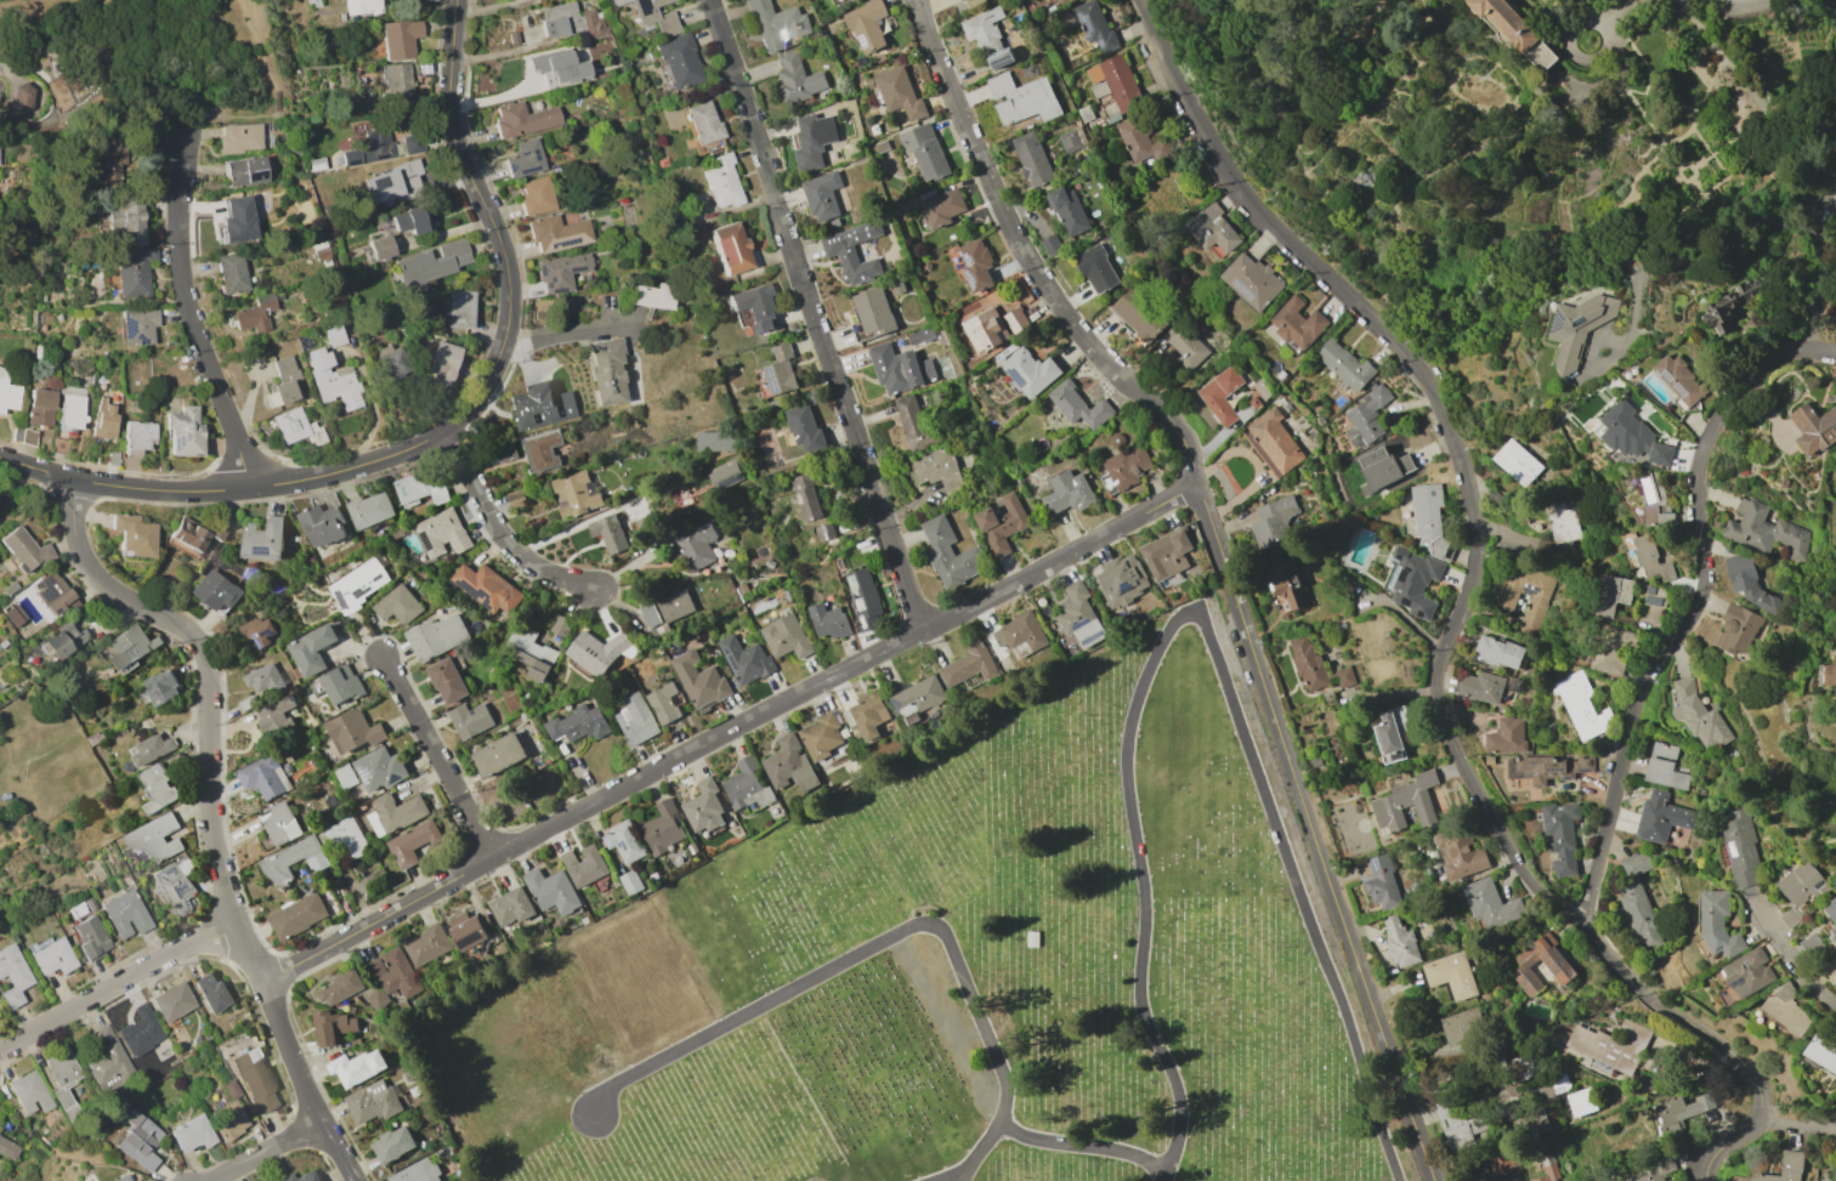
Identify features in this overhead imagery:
building: (960, 0)
building: (1053, 0)
building: (555, 1)
building: (846, 1)
building: (314, 2)
building: (364, 6)
road: (1617, 8)
building: (654, 16)
building: (342, 17)
building: (573, 22)
building: (776, 24)
building: (1094, 24)
building: (866, 25)
building: (1514, 33)
building: (402, 38)
building: (512, 38)
building: (987, 38)
road: (256, 45)
building: (588, 45)
building: (679, 59)
building: (569, 63)
park: (137, 64)
road: (1, 68)
road: (10, 68)
road: (56, 68)
road: (36, 69)
building: (795, 79)
building: (397, 80)
building: (1116, 81)
road: (11, 90)
building: (899, 93)
building: (23, 97)
building: (1021, 98)
road: (276, 100)
road: (210, 113)
road: (276, 114)
building: (523, 120)
building: (704, 121)
road: (191, 131)
building: (240, 138)
building: (812, 140)
building: (1140, 142)
building: (414, 143)
building: (370, 147)
building: (924, 151)
building: (110, 157)
building: (1032, 158)
building: (525, 159)
building: (245, 171)
building: (391, 181)
building: (722, 181)
building: (535, 195)
building: (821, 195)
building: (942, 206)
building: (1067, 211)
building: (243, 215)
building: (126, 218)
building: (409, 221)
building: (1212, 229)
road: (1785, 229)
building: (559, 233)
building: (381, 248)
building: (730, 248)
building: (838, 249)
building: (323, 252)
building: (975, 263)
building: (429, 266)
building: (365, 268)
building: (1096, 268)
building: (562, 271)
building: (135, 273)
building: (232, 273)
building: (1251, 280)
building: (651, 296)
building: (1727, 305)
building: (754, 306)
building: (459, 310)
building: (420, 311)
building: (255, 312)
building: (873, 312)
building: (1139, 314)
road: (814, 317)
road: (189, 318)
building: (1297, 323)
building: (137, 327)
building: (992, 327)
road: (569, 328)
building: (1576, 328)
building: (336, 335)
building: (919, 335)
building: (291, 343)
building: (1184, 346)
road: (1825, 351)
building: (444, 360)
building: (391, 362)
building: (1343, 364)
building: (899, 368)
building: (611, 371)
building: (778, 371)
building: (1028, 371)
building: (1678, 379)
building: (333, 380)
building: (284, 381)
building: (7, 391)
building: (1220, 394)
building: (1078, 405)
building: (41, 407)
building: (540, 407)
building: (72, 409)
building: (1366, 416)
building: (104, 421)
building: (914, 424)
building: (297, 427)
road: (443, 427)
building: (1813, 427)
building: (804, 428)
building: (185, 431)
building: (19, 432)
building: (1631, 435)
building: (30, 437)
building: (140, 437)
building: (715, 441)
building: (1271, 442)
building: (61, 445)
building: (543, 449)
building: (505, 452)
building: (114, 458)
building: (1517, 462)
building: (1126, 466)
building: (936, 469)
building: (1382, 469)
building: (725, 476)
building: (420, 489)
building: (577, 493)
building: (1066, 493)
building: (805, 495)
building: (515, 498)
building: (1653, 499)
building: (369, 510)
building: (1427, 518)
building: (1562, 521)
building: (1273, 522)
building: (322, 523)
building: (1001, 523)
building: (1762, 529)
building: (198, 530)
road: (497, 532)
building: (823, 532)
building: (442, 533)
building: (607, 533)
building: (397, 534)
building: (135, 535)
building: (263, 539)
building: (692, 545)
building: (25, 549)
building: (1166, 552)
building: (948, 553)
building: (1645, 556)
road: (1224, 562)
road: (1475, 569)
building: (1121, 580)
building: (1413, 581)
building: (1749, 583)
building: (359, 584)
building: (1283, 585)
building: (488, 587)
building: (11, 589)
building: (216, 591)
building: (1525, 592)
building: (55, 595)
building: (1609, 595)
building: (865, 600)
building: (398, 606)
building: (667, 608)
building: (1076, 614)
building: (15, 615)
building: (827, 620)
road: (1689, 620)
road: (1196, 621)
building: (563, 625)
building: (362, 628)
building: (1736, 630)
building: (1018, 631)
building: (257, 632)
building: (437, 636)
building: (784, 636)
building: (64, 641)
building: (5, 643)
building: (131, 647)
building: (312, 649)
building: (529, 651)
building: (1610, 651)
building: (1497, 652)
building: (595, 657)
building: (742, 659)
building: (968, 665)
building: (1315, 666)
building: (6, 671)
building: (1830, 674)
road: (204, 675)
building: (261, 676)
building: (447, 680)
building: (697, 680)
building: (342, 683)
building: (1481, 687)
building: (161, 688)
building: (916, 699)
building: (248, 703)
building: (663, 703)
building: (1580, 706)
building: (868, 714)
building: (276, 716)
building: (1699, 716)
building: (633, 719)
building: (470, 720)
building: (578, 723)
road: (727, 729)
building: (355, 731)
building: (1392, 733)
building: (821, 734)
building: (1506, 736)
building: (96, 738)
building: (151, 750)
building: (498, 755)
road: (436, 757)
building: (176, 761)
building: (788, 763)
building: (1547, 767)
building: (1664, 767)
building: (380, 768)
building: (346, 776)
building: (263, 777)
building: (747, 783)
building: (158, 789)
building: (1405, 802)
building: (702, 806)
building: (361, 807)
building: (395, 813)
building: (1660, 817)
building: (279, 823)
building: (662, 829)
building: (344, 836)
building: (1560, 836)
building: (157, 840)
building: (413, 842)
building: (622, 842)
building: (1740, 847)
building: (1458, 853)
building: (276, 863)
building: (584, 864)
building: (1636, 864)
building: (1379, 882)
building: (175, 885)
building: (1801, 885)
building: (552, 891)
building: (91, 903)
building: (1489, 903)
building: (511, 907)
building: (78, 912)
building: (125, 913)
building: (1639, 915)
building: (1831, 915)
building: (299, 916)
building: (1717, 924)
building: (467, 931)
building: (497, 937)
road: (891, 937)
building: (92, 938)
building: (1400, 942)
building: (429, 944)
building: (500, 948)
building: (52, 955)
road: (248, 956)
road: (1791, 959)
building: (1557, 966)
building: (375, 967)
park: (959, 970)
building: (1831, 970)
building: (1747, 972)
building: (399, 973)
building: (15, 975)
building: (1450, 975)
road: (115, 984)
building: (340, 987)
building: (212, 992)
building: (378, 999)
building: (0, 1000)
building: (174, 1001)
building: (1785, 1009)
building: (1462, 1026)
building: (333, 1027)
building: (141, 1030)
building: (355, 1041)
building: (1609, 1045)
building: (1821, 1051)
building: (183, 1052)
building: (109, 1061)
road: (1447, 1064)
building: (357, 1067)
building: (63, 1068)
building: (1520, 1068)
building: (412, 1073)
building: (256, 1079)
road: (300, 1084)
building: (30, 1092)
building: (374, 1101)
building: (1580, 1102)
building: (68, 1105)
building: (0, 1108)
building: (1684, 1109)
building: (229, 1120)
building: (1532, 1122)
building: (1, 1123)
building: (1456, 1124)
road: (1800, 1130)
building: (192, 1134)
road: (1722, 1141)
building: (140, 1142)
building: (392, 1143)
building: (47, 1145)
road: (1089, 1145)
building: (10, 1148)
road: (263, 1151)
building: (1783, 1168)
building: (418, 1171)
building: (1546, 1171)
building: (302, 1176)
road: (962, 1176)
building: (124, 1179)
building: (87, 1180)

